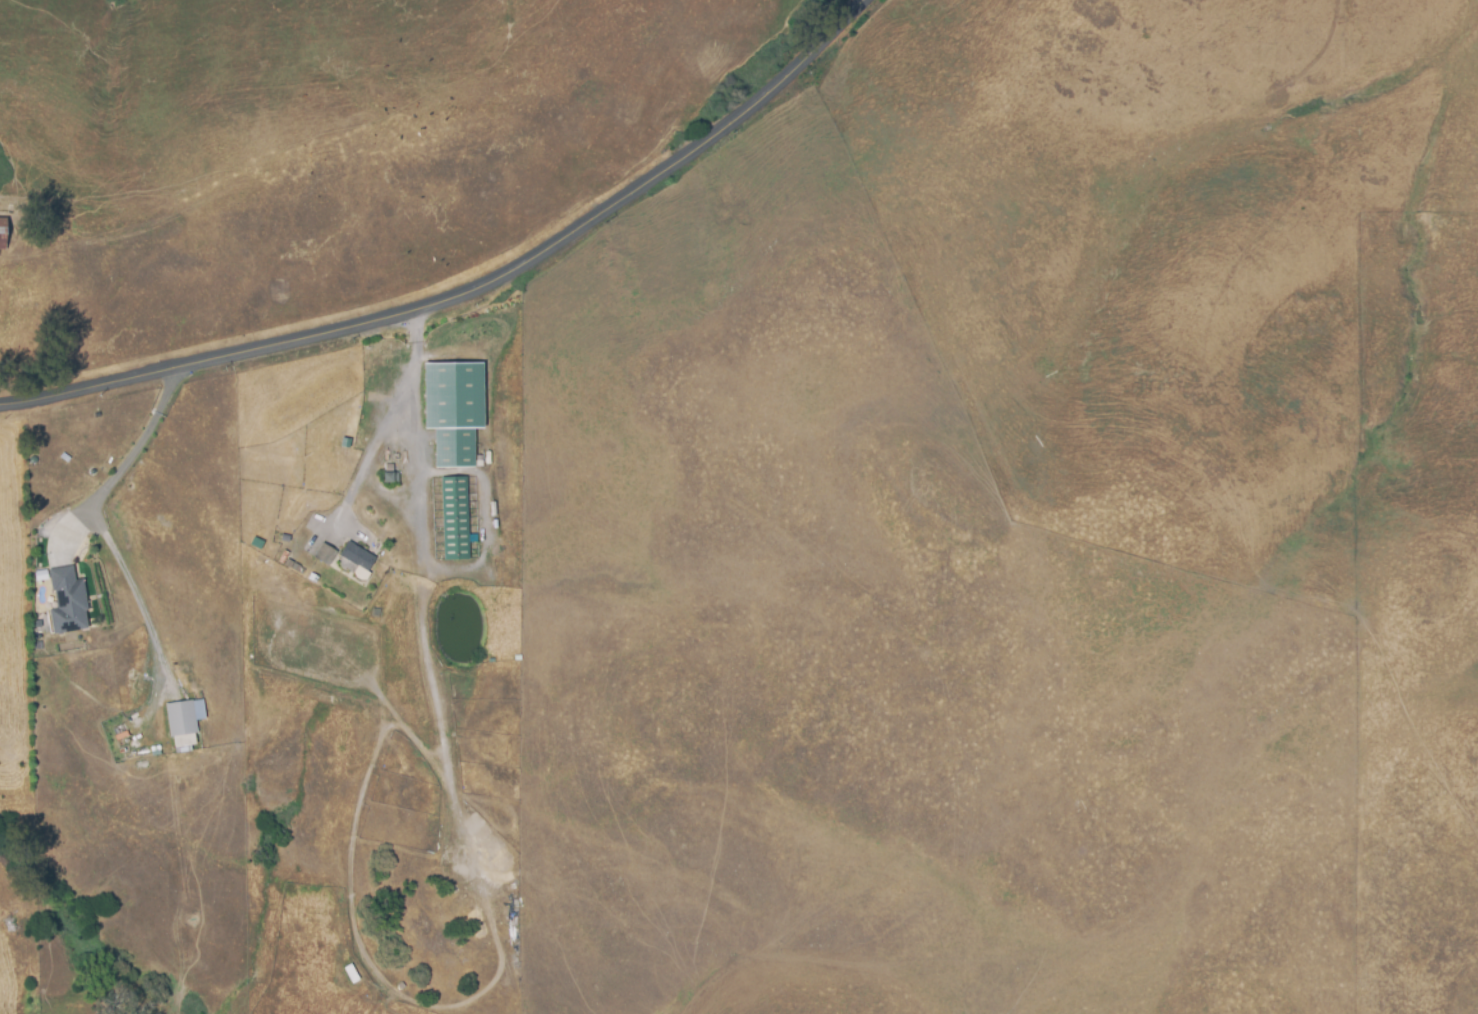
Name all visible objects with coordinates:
building: (4, 229)
road: (474, 290)
building: (454, 410)
road: (386, 420)
building: (407, 468)
road: (122, 470)
building: (390, 473)
building: (456, 516)
building: (326, 552)
building: (357, 555)
building: (67, 596)
road: (134, 596)
building: (184, 716)
building: (120, 736)
building: (350, 974)

